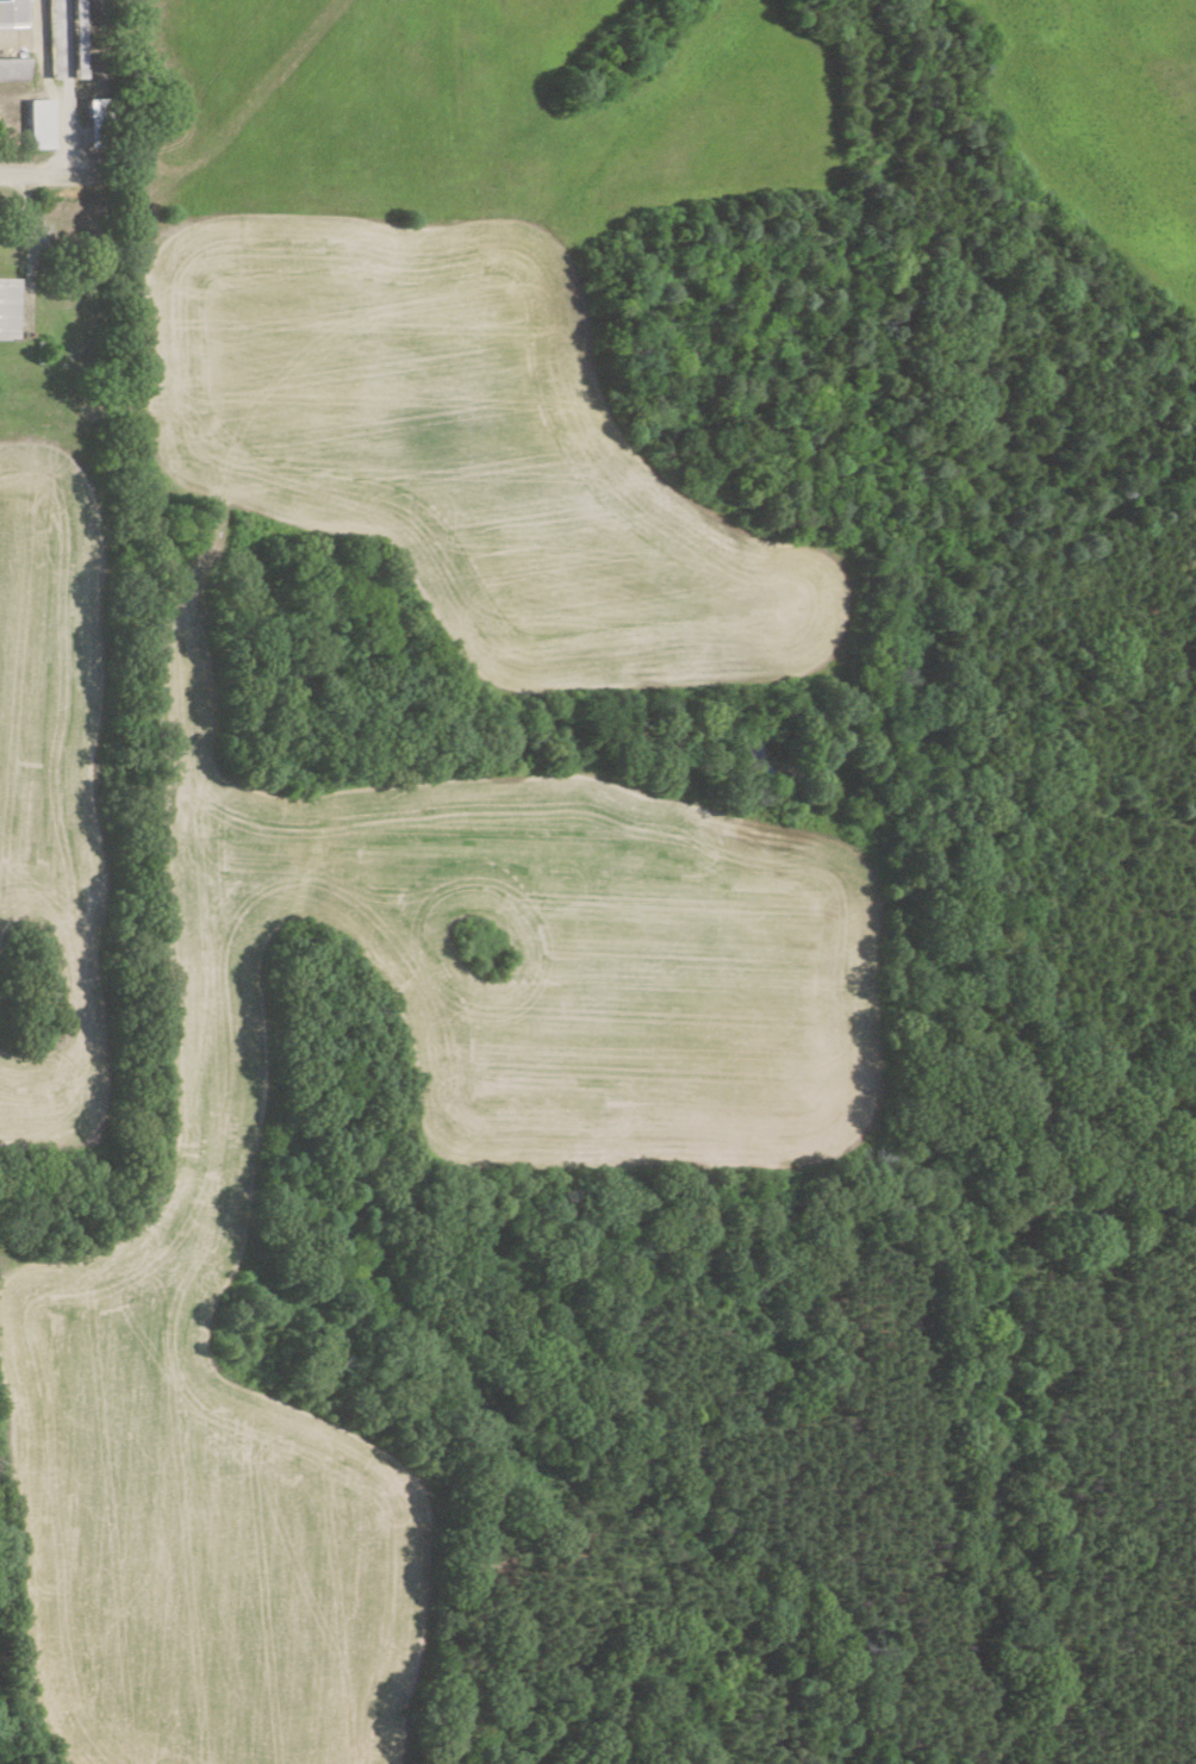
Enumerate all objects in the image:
building: (12, 12)
building: (12, 67)
building: (38, 121)
building: (10, 306)

